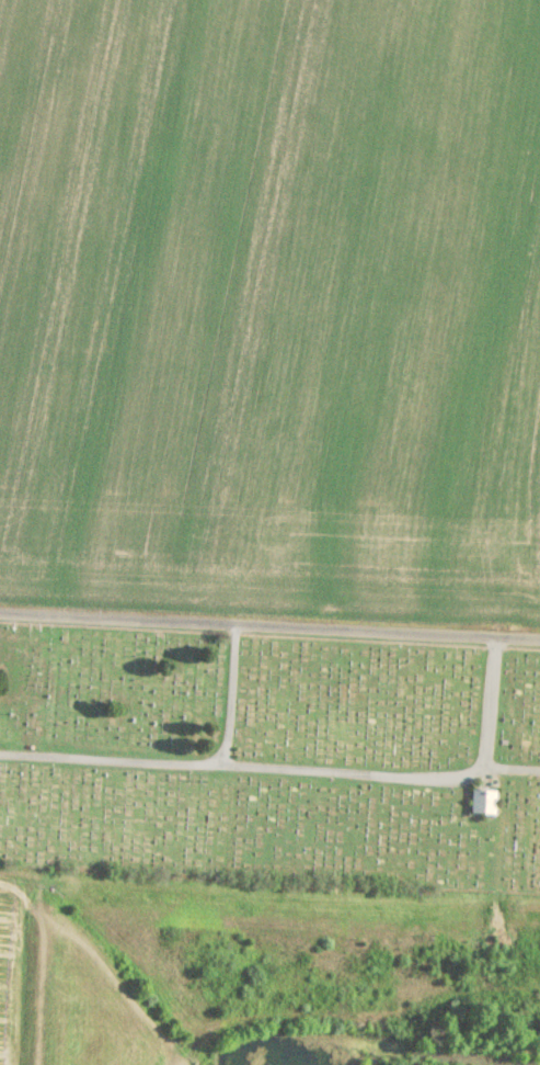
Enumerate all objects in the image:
crop: (273, 290)
road: (269, 623)
road: (228, 696)
road: (489, 705)
road: (242, 772)
road: (510, 780)
building: (482, 798)
crop: (12, 959)
quarry: (275, 974)

